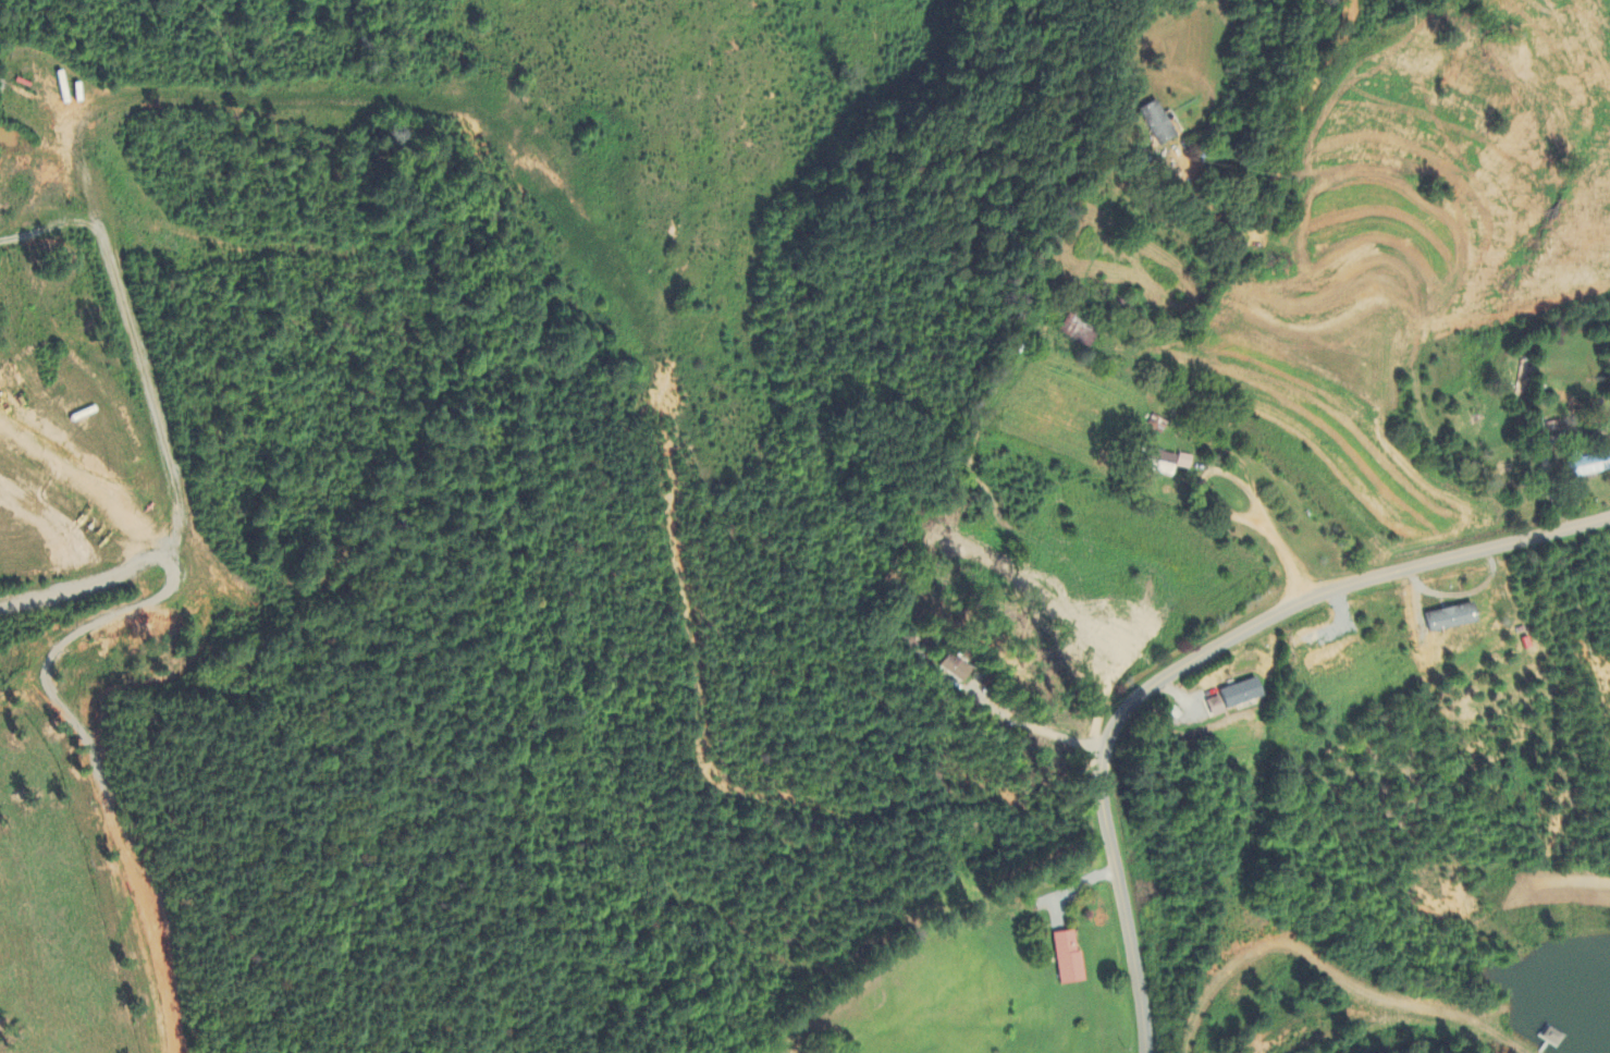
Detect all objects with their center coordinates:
building: (1156, 123)
road: (1292, 125)
building: (1079, 330)
building: (1178, 462)
building: (1153, 463)
building: (1587, 464)
road: (1275, 526)
road: (127, 610)
building: (1448, 619)
road: (1194, 659)
building: (950, 669)
building: (1233, 698)
road: (1030, 726)
road: (149, 928)
building: (1065, 959)

